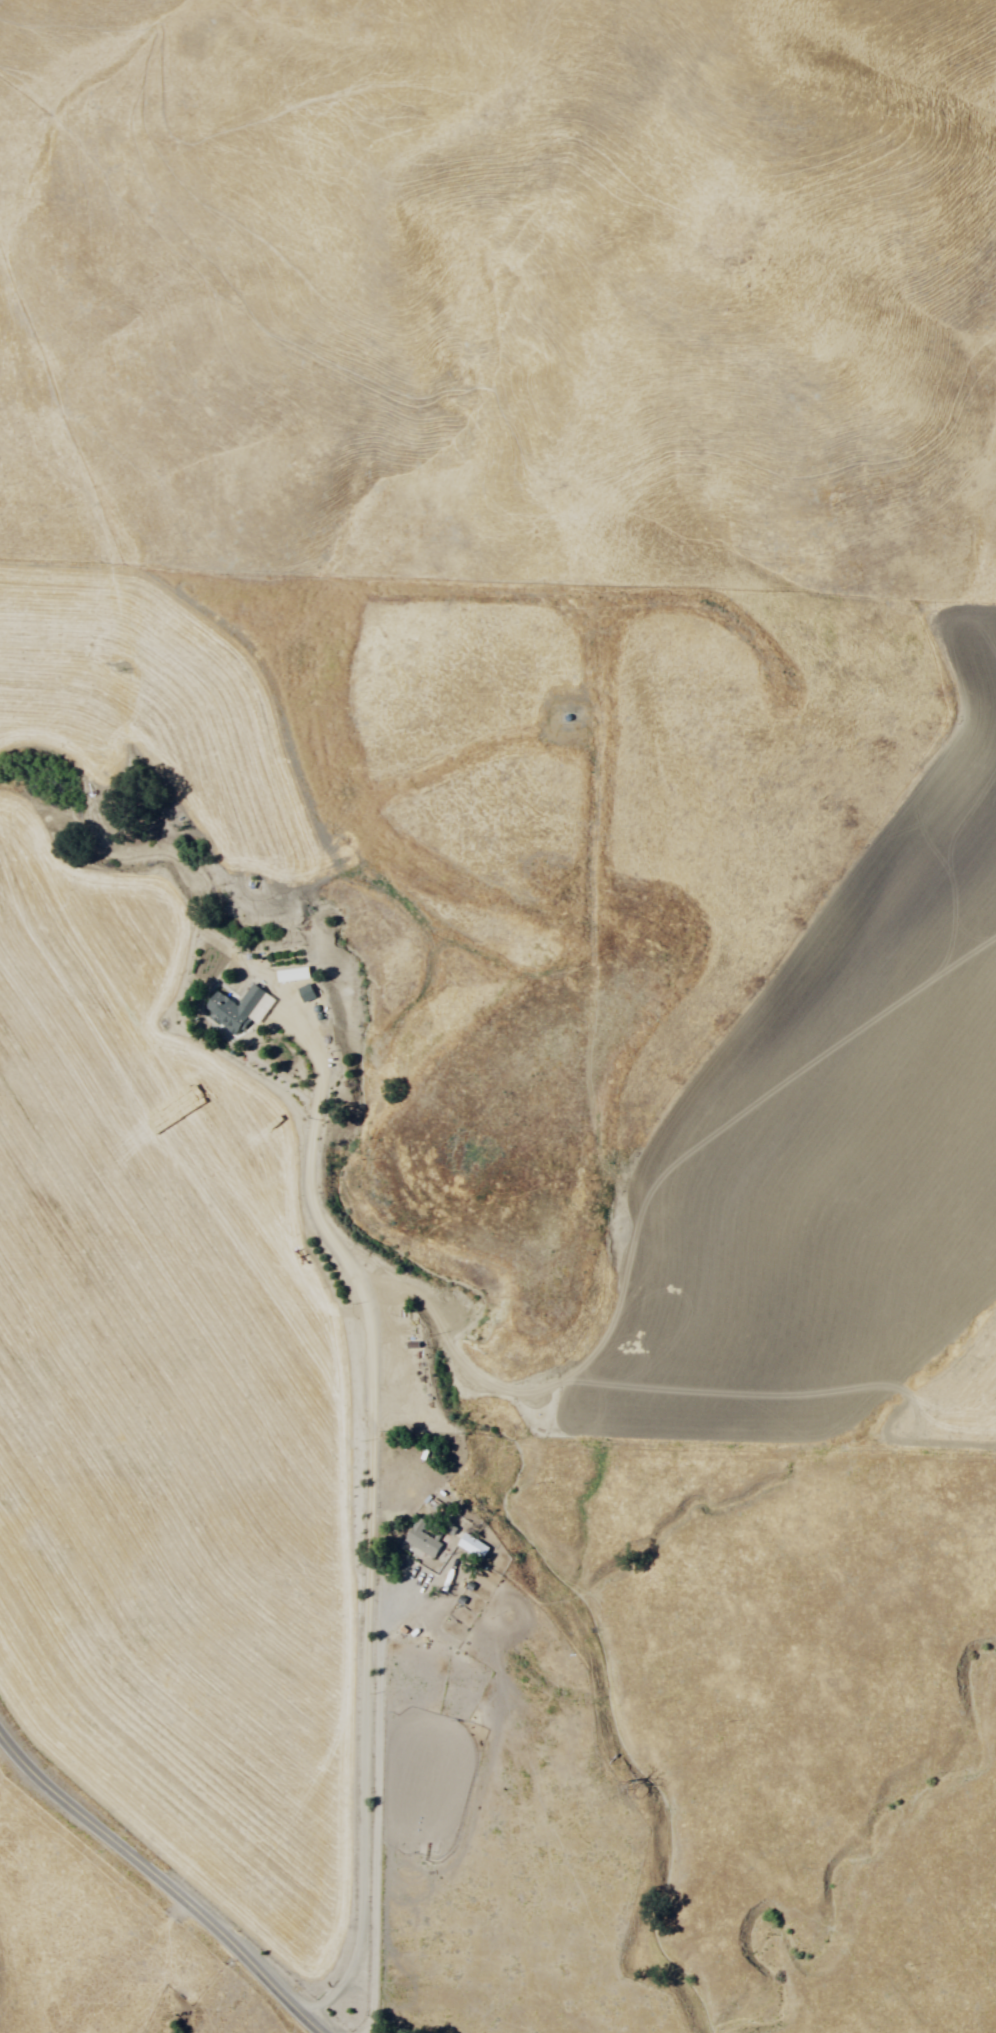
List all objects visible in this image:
crop: (612, 923)
building: (284, 972)
building: (232, 1010)
crop: (830, 1157)
crop: (157, 1343)
road: (364, 1492)
building: (440, 1525)
building: (424, 1536)
building: (470, 1546)
road: (163, 1877)

